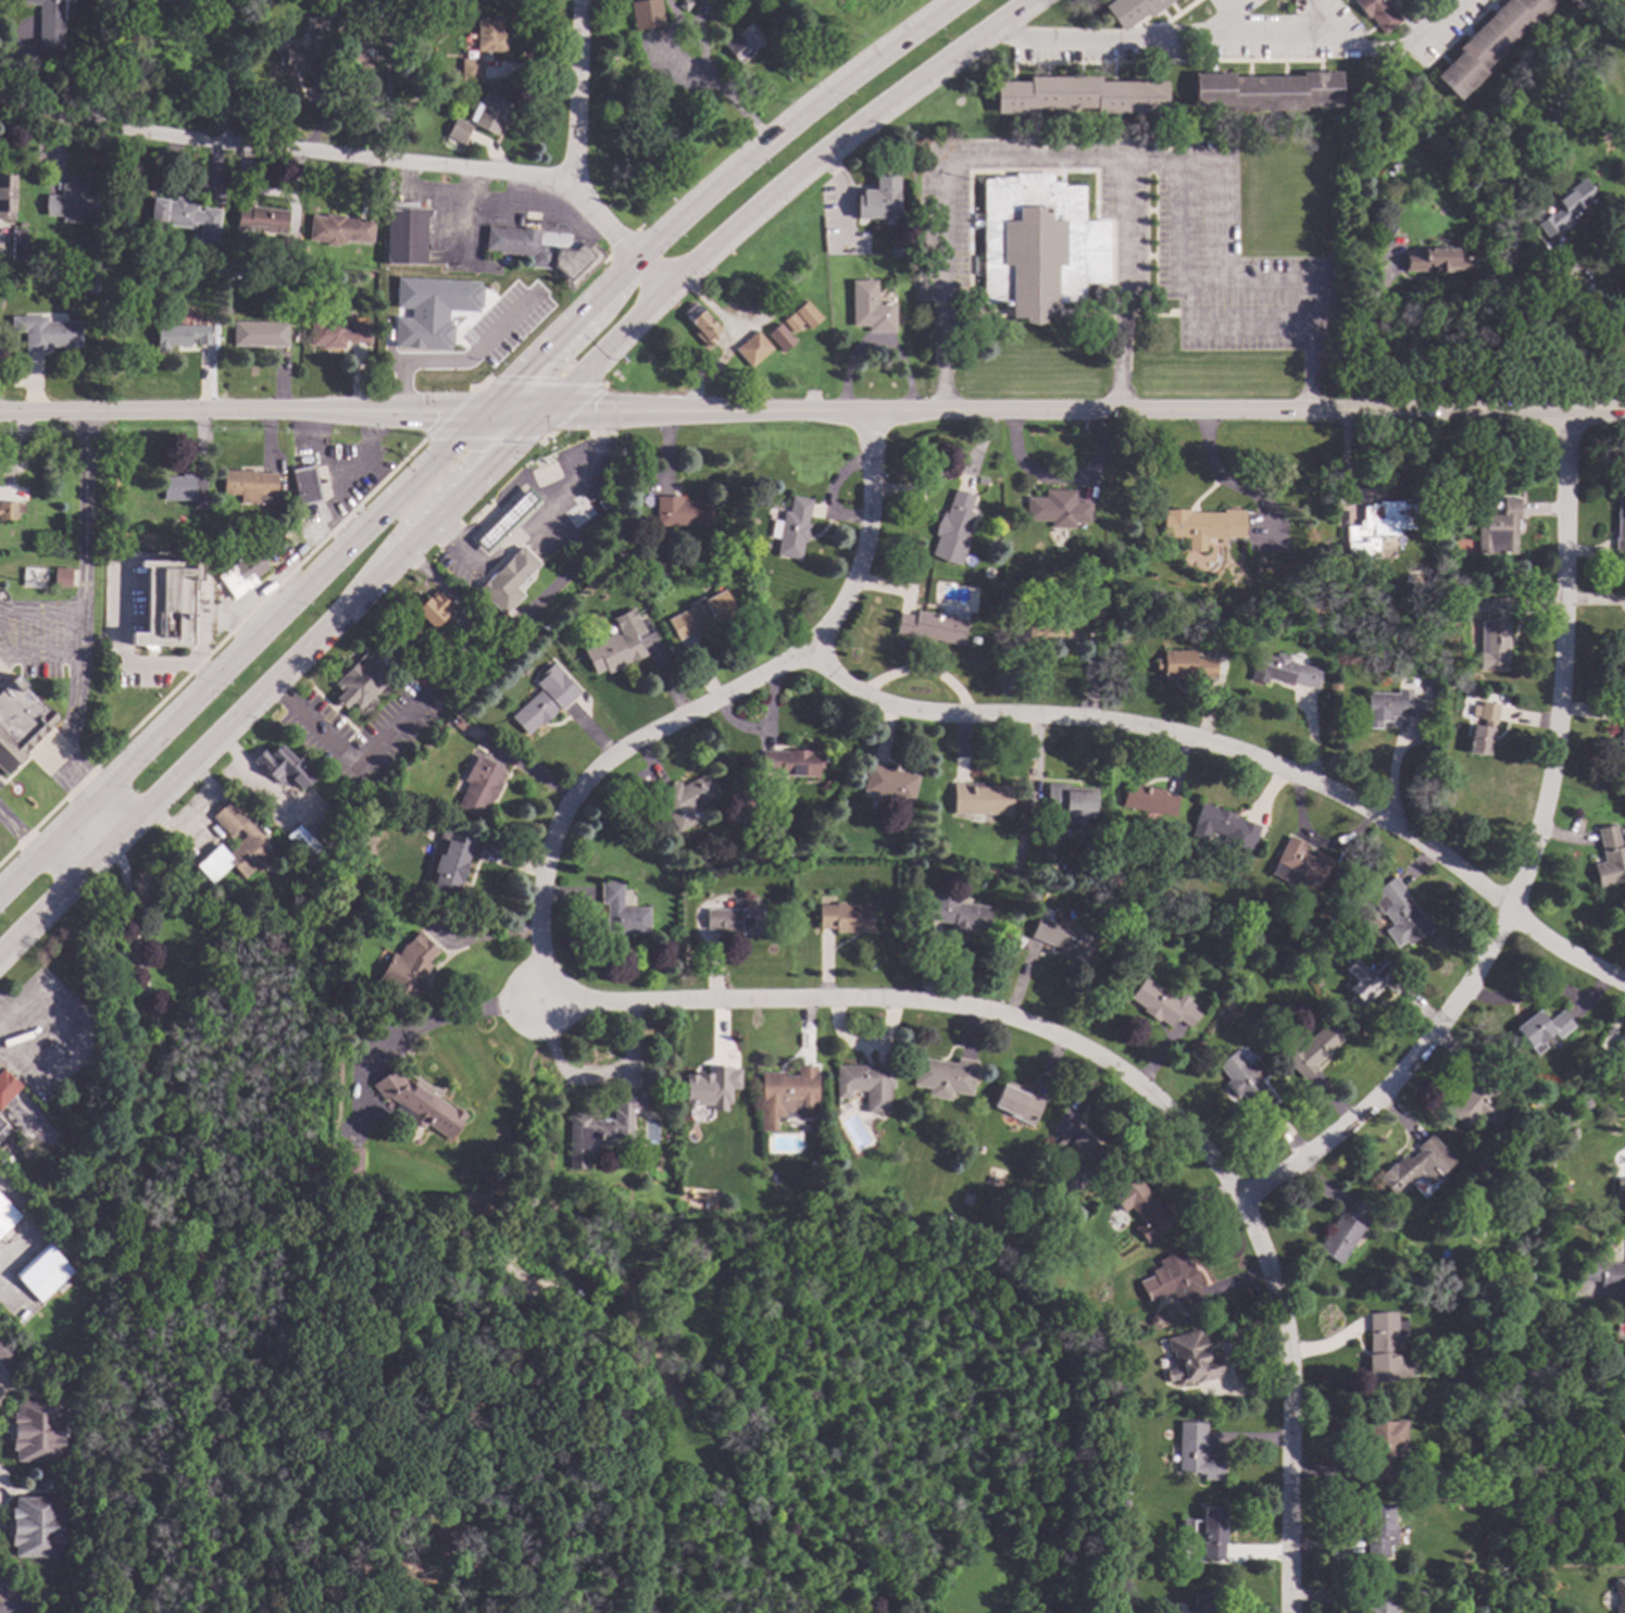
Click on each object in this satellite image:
building: (316, 1)
building: (189, 2)
building: (683, 4)
building: (1130, 10)
building: (1378, 12)
building: (645, 13)
building: (417, 17)
building: (50, 22)
building: (341, 24)
building: (315, 25)
building: (489, 34)
road: (1082, 39)
building: (741, 41)
road: (1290, 42)
building: (1488, 42)
road: (703, 53)
building: (292, 59)
building: (353, 60)
building: (471, 68)
road: (225, 74)
building: (1266, 90)
road: (578, 92)
building: (1079, 95)
building: (1558, 112)
building: (489, 113)
building: (1459, 122)
building: (458, 130)
building: (1154, 145)
road: (357, 151)
road: (1127, 162)
building: (1488, 183)
building: (1353, 186)
road: (779, 189)
road: (712, 192)
building: (5, 196)
building: (877, 199)
building: (72, 200)
building: (1566, 205)
building: (184, 217)
building: (262, 220)
building: (22, 223)
building: (339, 229)
building: (123, 230)
building: (403, 232)
parking lot: (1134, 237)
road: (1177, 242)
building: (1037, 245)
building: (16, 246)
building: (288, 246)
building: (539, 248)
building: (228, 255)
building: (1361, 255)
building: (1435, 260)
building: (117, 283)
building: (91, 284)
road: (1121, 288)
building: (870, 308)
building: (273, 311)
building: (429, 311)
building: (805, 314)
road: (1593, 315)
building: (790, 321)
building: (700, 324)
road: (1223, 327)
building: (46, 333)
building: (338, 333)
building: (260, 334)
road: (1370, 335)
building: (180, 336)
building: (779, 337)
building: (752, 348)
road: (458, 360)
road: (241, 409)
road: (517, 409)
road: (1088, 412)
road: (345, 472)
building: (1451, 478)
building: (979, 480)
building: (248, 484)
building: (304, 485)
building: (184, 488)
building: (1339, 504)
road: (333, 508)
building: (1055, 509)
building: (10, 510)
building: (682, 512)
road: (532, 514)
building: (503, 521)
building: (1200, 525)
building: (1376, 526)
building: (790, 528)
building: (951, 528)
building: (1498, 528)
building: (1620, 528)
building: (223, 530)
building: (114, 540)
building: (271, 540)
building: (628, 543)
building: (242, 571)
building: (1099, 573)
building: (507, 577)
building: (61, 578)
building: (167, 603)
building: (1314, 605)
road: (41, 607)
building: (433, 609)
building: (700, 614)
road: (83, 617)
building: (929, 626)
building: (1063, 627)
building: (1491, 632)
building: (1205, 634)
building: (1624, 645)
building: (612, 651)
road: (241, 653)
road: (39, 655)
building: (1184, 665)
building: (1283, 671)
building: (360, 680)
building: (467, 680)
road: (275, 682)
building: (1424, 684)
road: (707, 705)
building: (540, 707)
building: (1390, 707)
building: (20, 720)
building: (1483, 727)
building: (1622, 742)
road: (1242, 751)
road: (346, 761)
building: (790, 762)
building: (284, 767)
building: (887, 783)
building: (478, 786)
building: (685, 799)
building: (979, 799)
building: (1147, 799)
building: (1070, 802)
building: (838, 804)
building: (1226, 826)
building: (327, 834)
road: (21, 836)
road: (88, 838)
building: (250, 841)
building: (305, 846)
building: (1609, 856)
road: (1530, 860)
building: (451, 862)
building: (911, 862)
building: (1298, 863)
building: (1114, 880)
building: (1354, 901)
building: (621, 911)
building: (957, 912)
building: (1398, 913)
building: (845, 917)
building: (735, 918)
building: (1142, 937)
building: (1062, 939)
building: (408, 967)
building: (1367, 983)
road: (930, 1003)
building: (1162, 1003)
road: (449, 1018)
building: (1536, 1029)
building: (1308, 1049)
building: (1617, 1058)
building: (943, 1076)
building: (1245, 1080)
building: (865, 1084)
building: (7, 1085)
building: (710, 1087)
building: (786, 1096)
building: (1478, 1098)
building: (1018, 1102)
building: (417, 1103)
building: (21, 1114)
building: (602, 1127)
building: (1, 1128)
building: (352, 1161)
building: (1078, 1164)
building: (1415, 1166)
building: (1620, 1186)
building: (816, 1196)
building: (830, 1200)
building: (1141, 1208)
building: (550, 1209)
building: (7, 1215)
road: (138, 1225)
building: (1342, 1229)
building: (1039, 1239)
building: (1060, 1251)
road: (722, 1252)
building: (42, 1272)
building: (1604, 1273)
building: (1173, 1281)
building: (526, 1308)
building: (1154, 1320)
building: (503, 1329)
building: (1096, 1334)
building: (1385, 1348)
building: (9, 1356)
building: (1190, 1359)
building: (1112, 1386)
road: (1290, 1401)
building: (37, 1430)
building: (1383, 1448)
building: (1195, 1452)
building: (1623, 1459)
building: (36, 1526)
building: (1377, 1528)
building: (1207, 1530)
building: (1490, 1556)
building: (1618, 1593)
building: (1205, 1600)
building: (1382, 1600)
road: (11, 1601)

